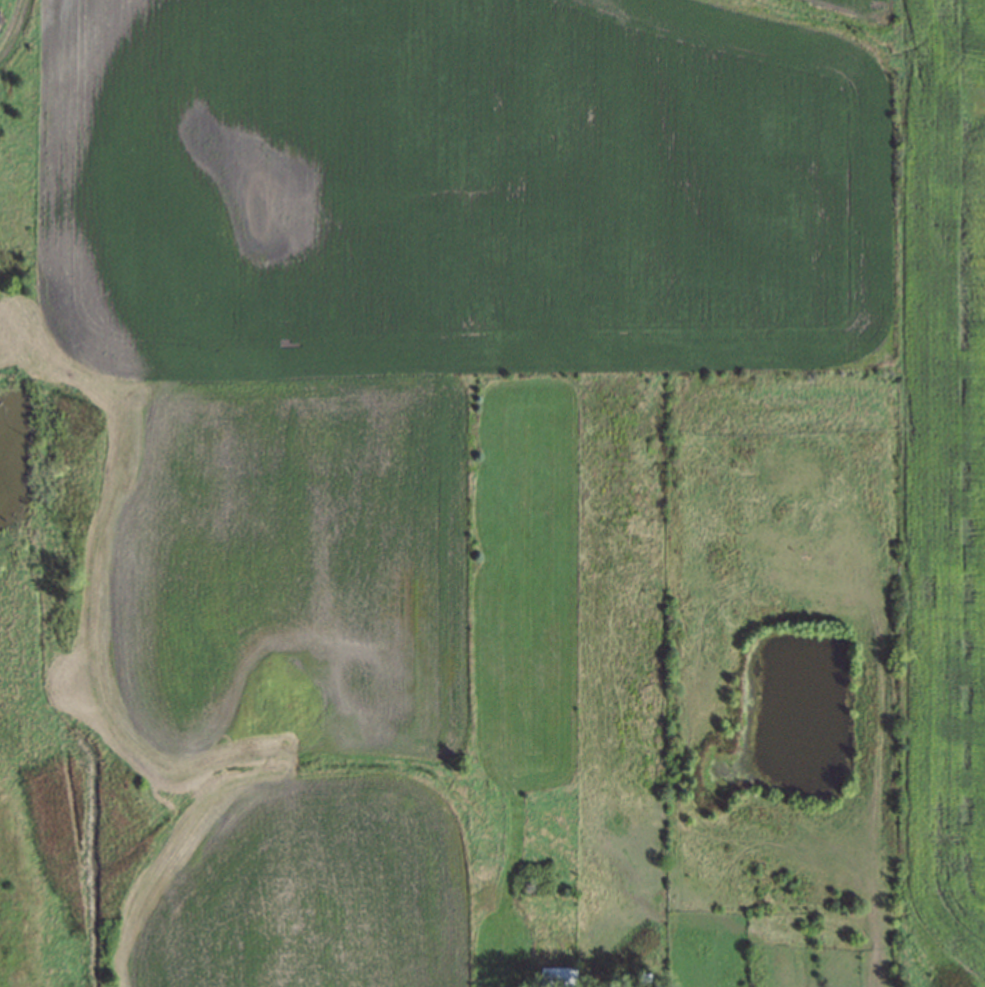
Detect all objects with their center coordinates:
building: (556, 978)
building: (643, 980)

